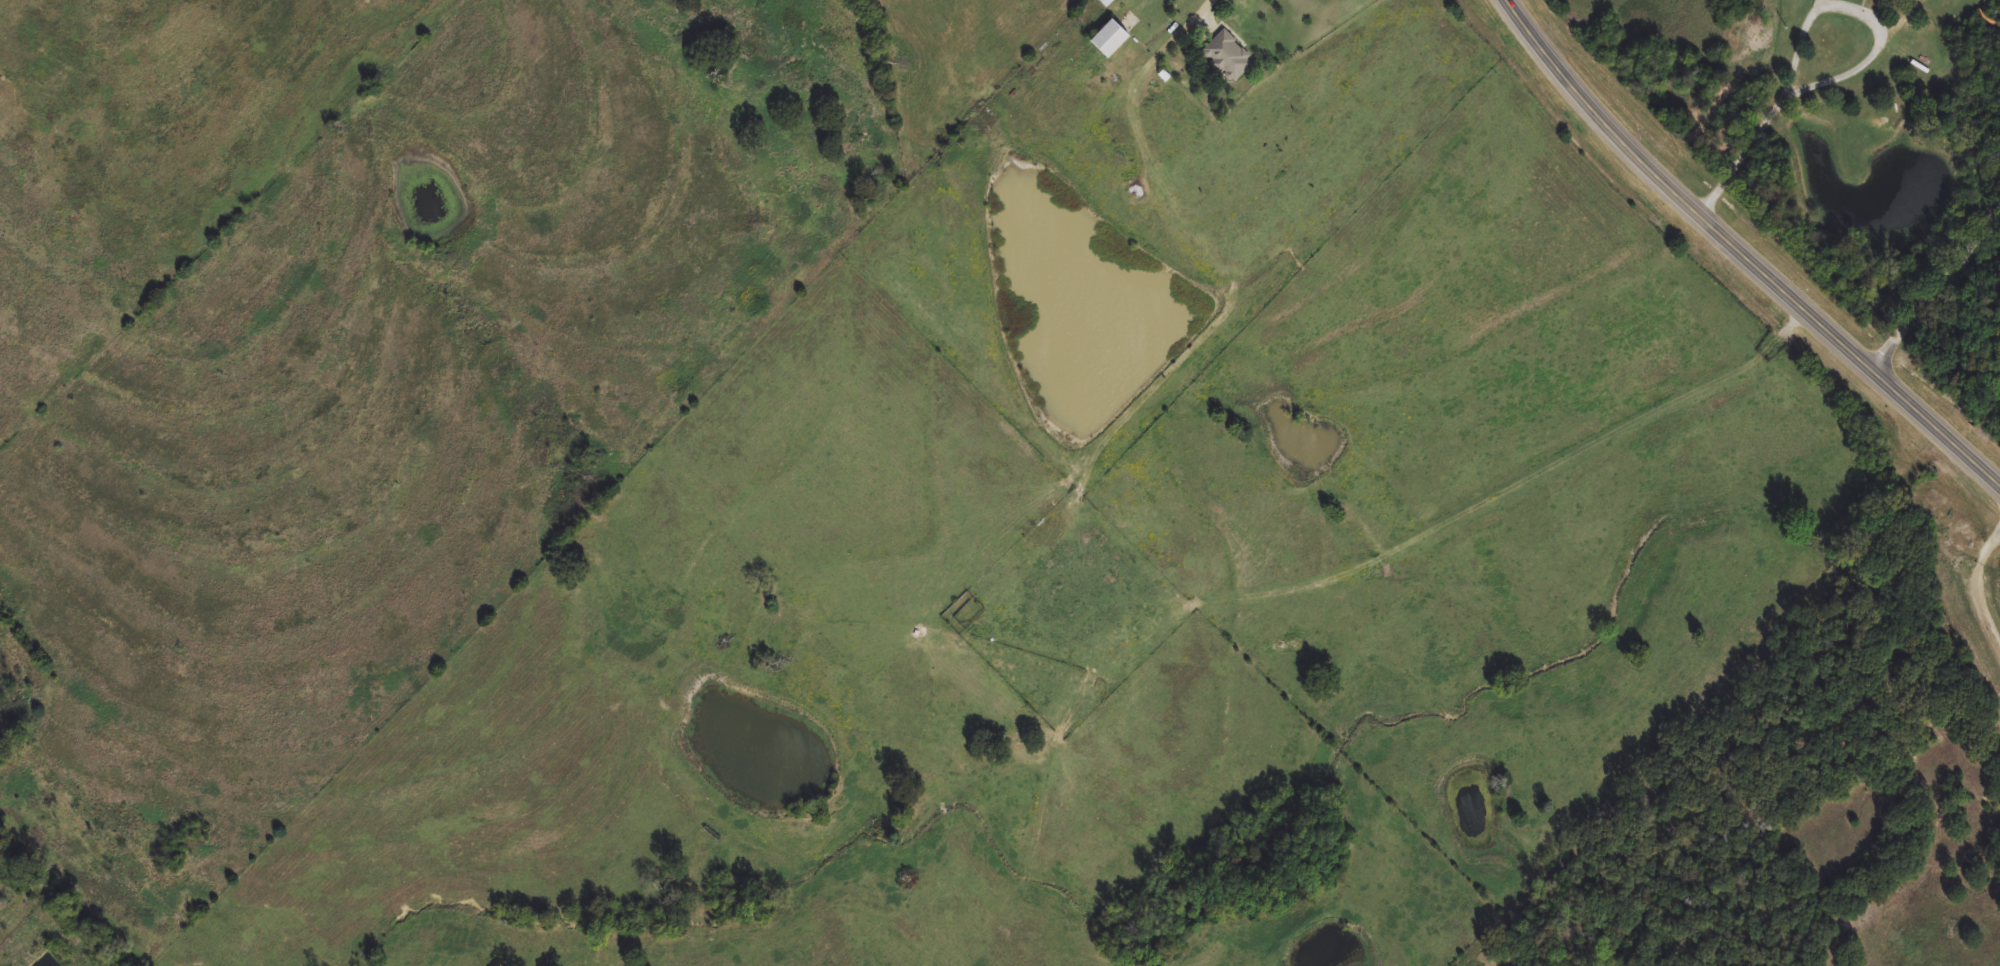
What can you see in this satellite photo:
building: (1106, 3)
road: (1214, 4)
building: (1105, 42)
building: (1226, 58)
road: (1808, 88)
road: (1749, 249)
road: (1938, 295)
road: (1981, 591)

